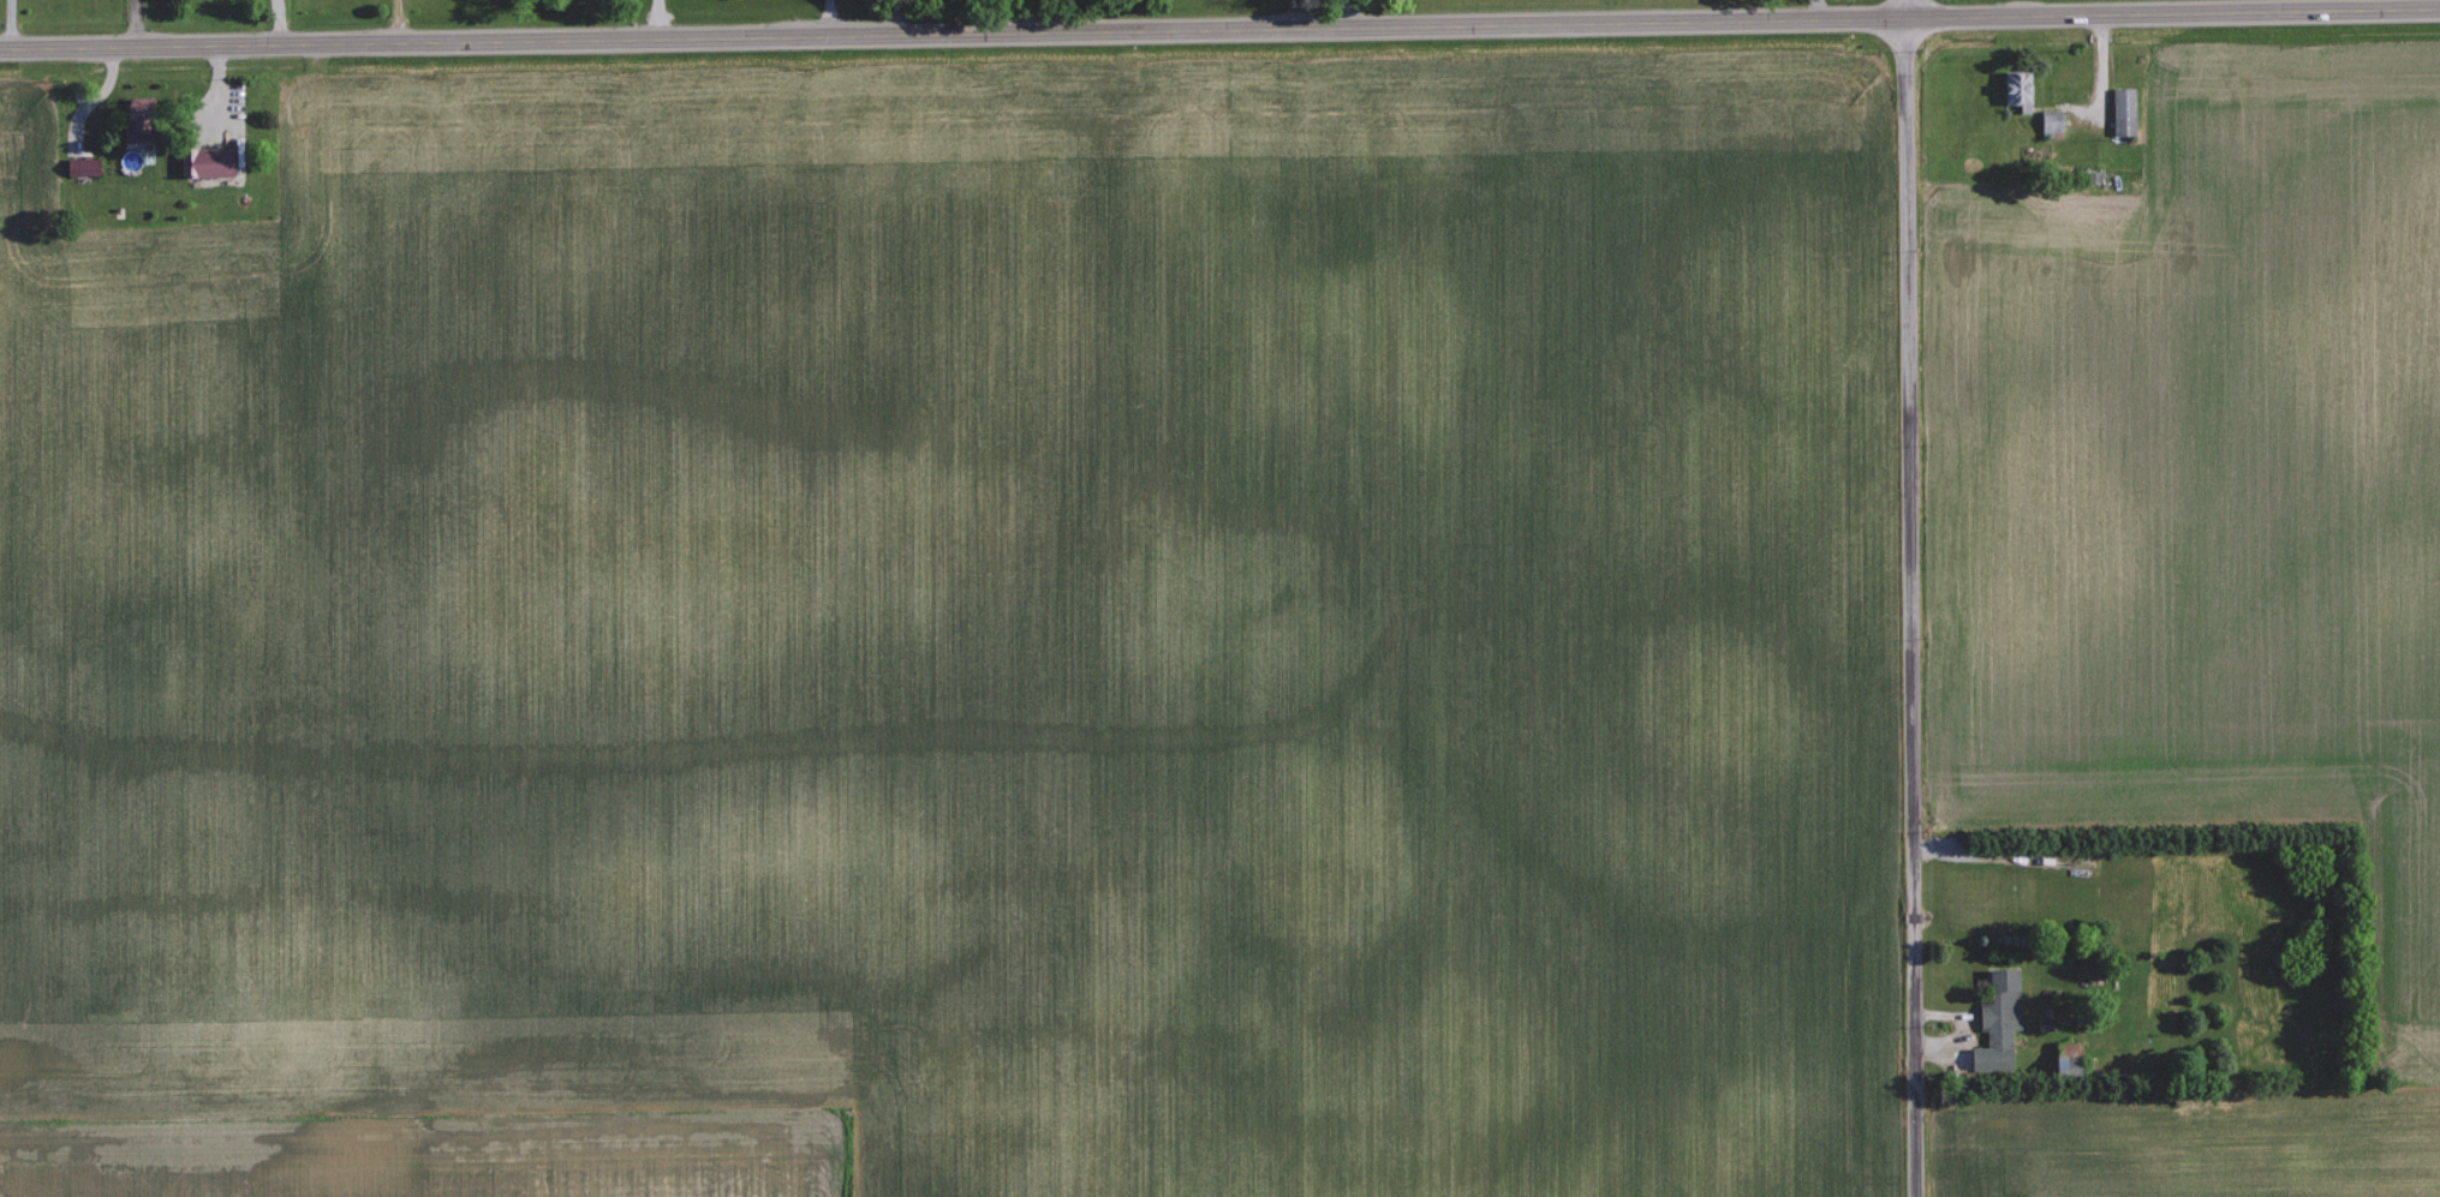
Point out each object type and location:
road: (1219, 25)
building: (2016, 88)
building: (2123, 110)
building: (2051, 118)
building: (132, 122)
building: (204, 161)
building: (80, 166)
road: (1910, 598)
building: (1998, 1019)
building: (2065, 1061)

